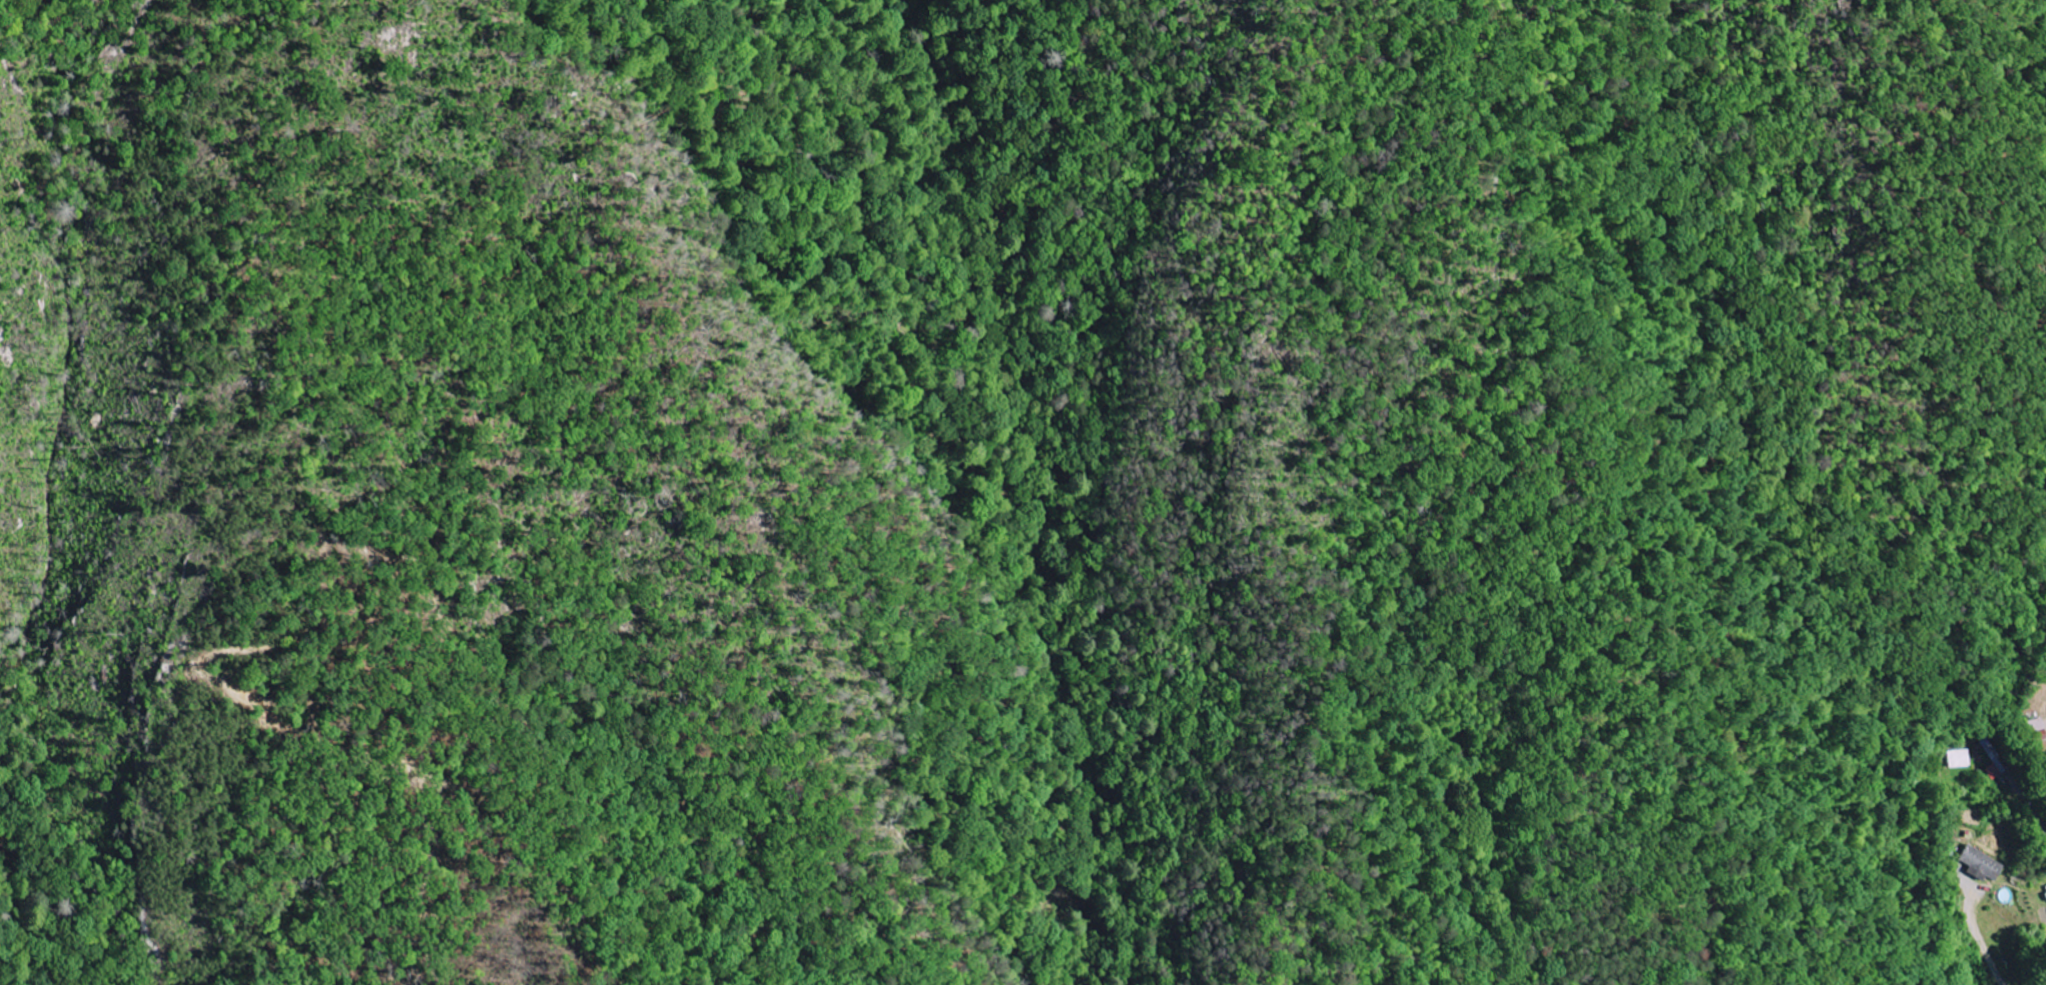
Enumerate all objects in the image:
building: (2036, 729)
building: (1957, 758)
building: (1978, 864)
building: (2044, 895)

